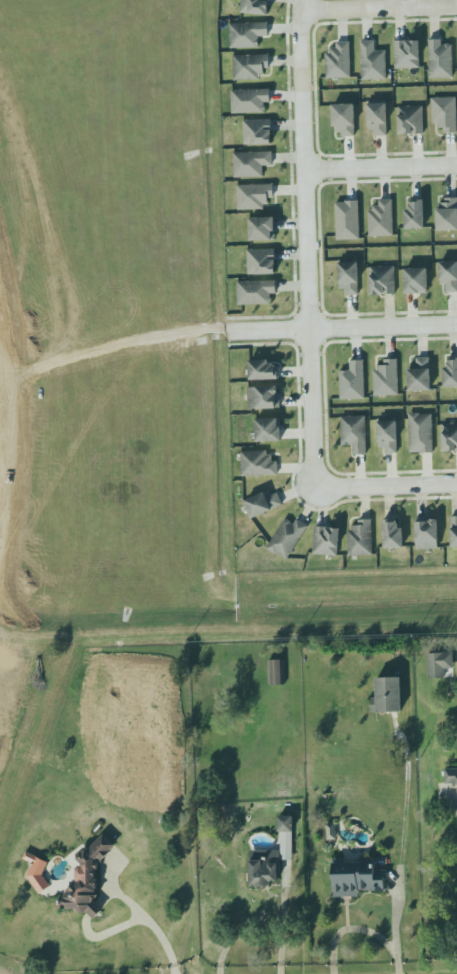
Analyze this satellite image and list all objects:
building: (256, 8)
road: (380, 8)
building: (247, 32)
building: (407, 54)
building: (440, 59)
building: (338, 60)
building: (373, 62)
building: (250, 64)
building: (250, 99)
building: (445, 113)
building: (377, 115)
building: (344, 119)
building: (411, 120)
building: (257, 130)
building: (251, 163)
road: (381, 167)
building: (253, 195)
building: (414, 212)
building: (446, 212)
building: (380, 218)
building: (344, 220)
building: (262, 226)
road: (307, 238)
building: (261, 260)
building: (448, 274)
building: (349, 275)
building: (382, 280)
building: (416, 281)
building: (256, 292)
road: (346, 327)
building: (263, 368)
building: (450, 371)
building: (419, 373)
building: (386, 378)
building: (352, 380)
building: (264, 395)
building: (268, 430)
building: (354, 432)
building: (420, 432)
building: (387, 435)
building: (447, 437)
building: (258, 464)
road: (386, 486)
building: (261, 502)
building: (454, 531)
building: (426, 533)
building: (393, 534)
building: (287, 537)
building: (360, 538)
building: (325, 540)
building: (439, 664)
building: (276, 672)
building: (387, 695)
building: (451, 775)
building: (285, 823)
building: (331, 831)
building: (286, 846)
building: (262, 866)
building: (36, 871)
building: (356, 878)
building: (88, 879)
road: (255, 920)
road: (151, 927)
road: (360, 930)

